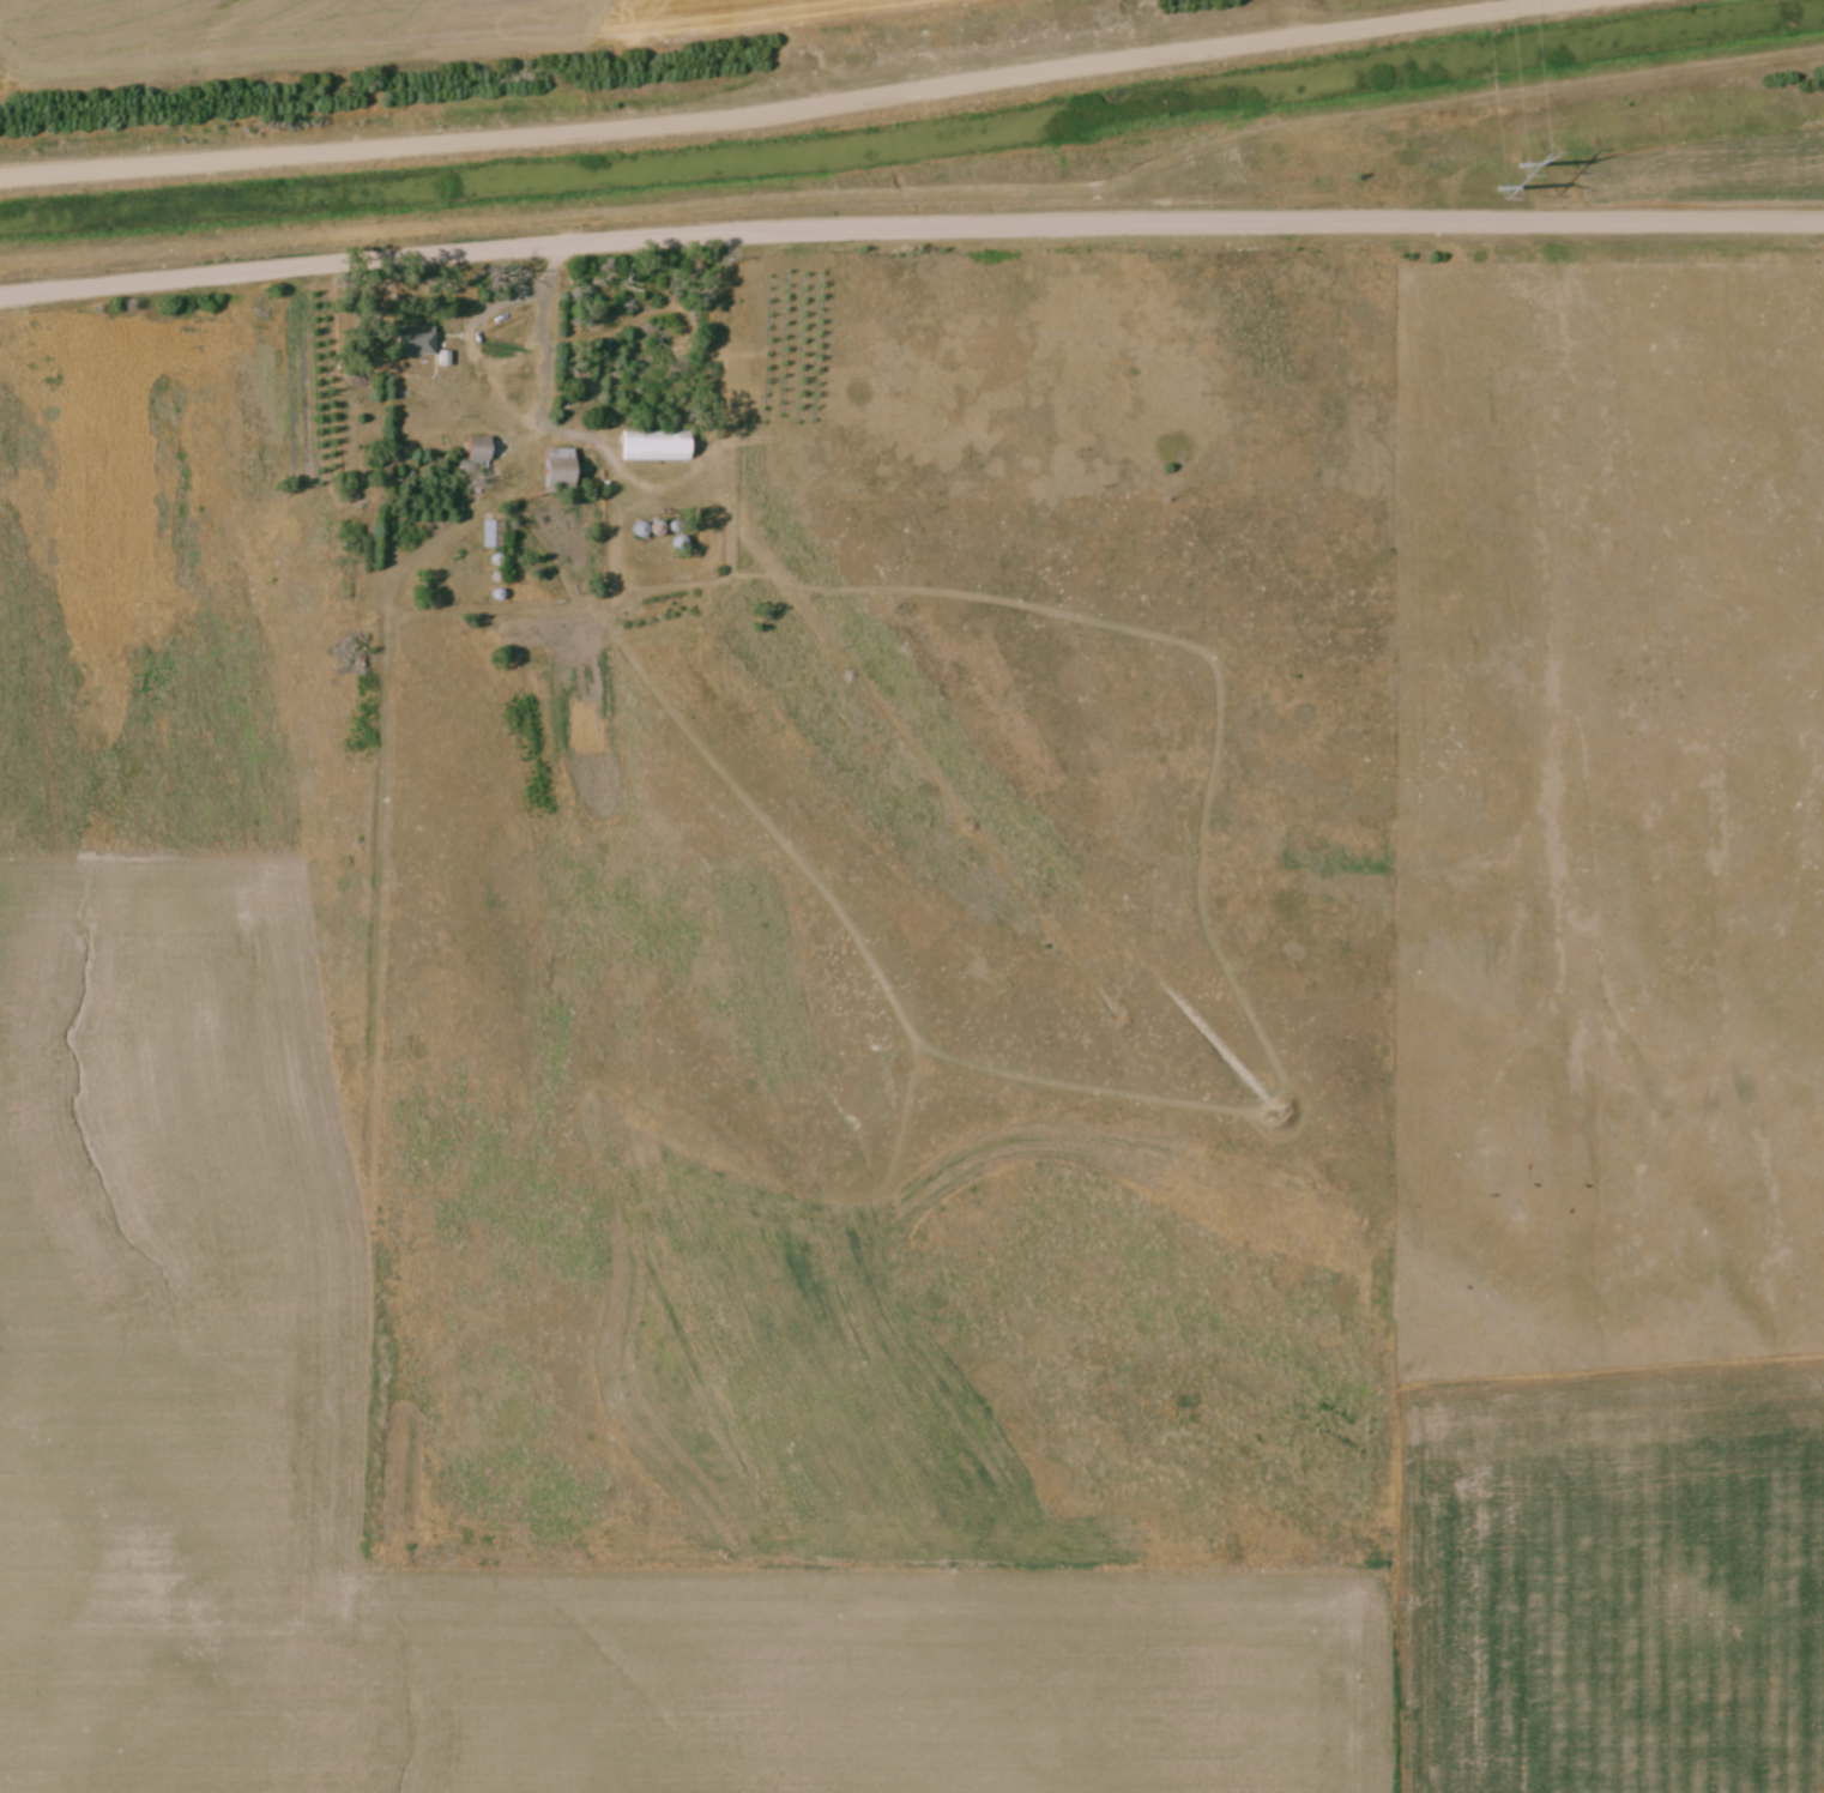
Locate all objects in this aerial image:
road: (767, 104)
power tower: (1512, 180)
road: (910, 223)
road: (543, 336)
building: (416, 340)
building: (479, 446)
building: (657, 447)
building: (561, 469)
building: (494, 535)

